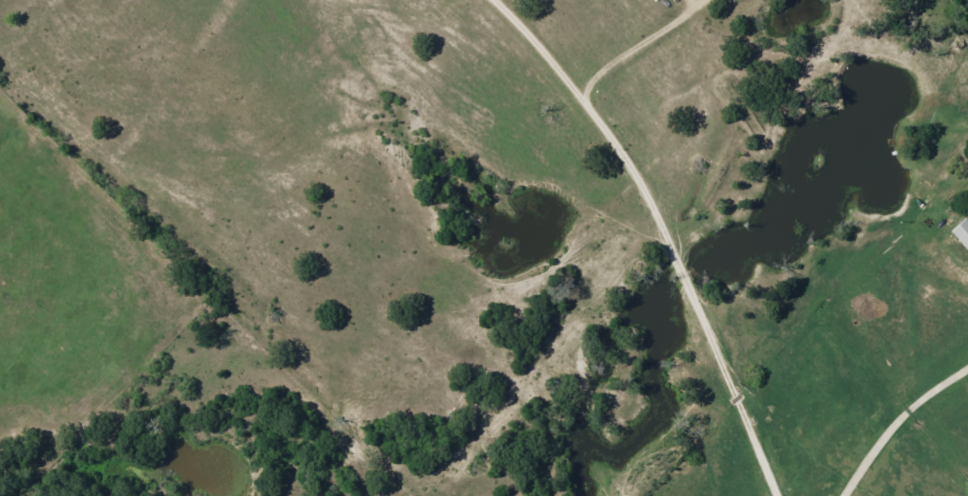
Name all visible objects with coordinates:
building: (963, 233)

